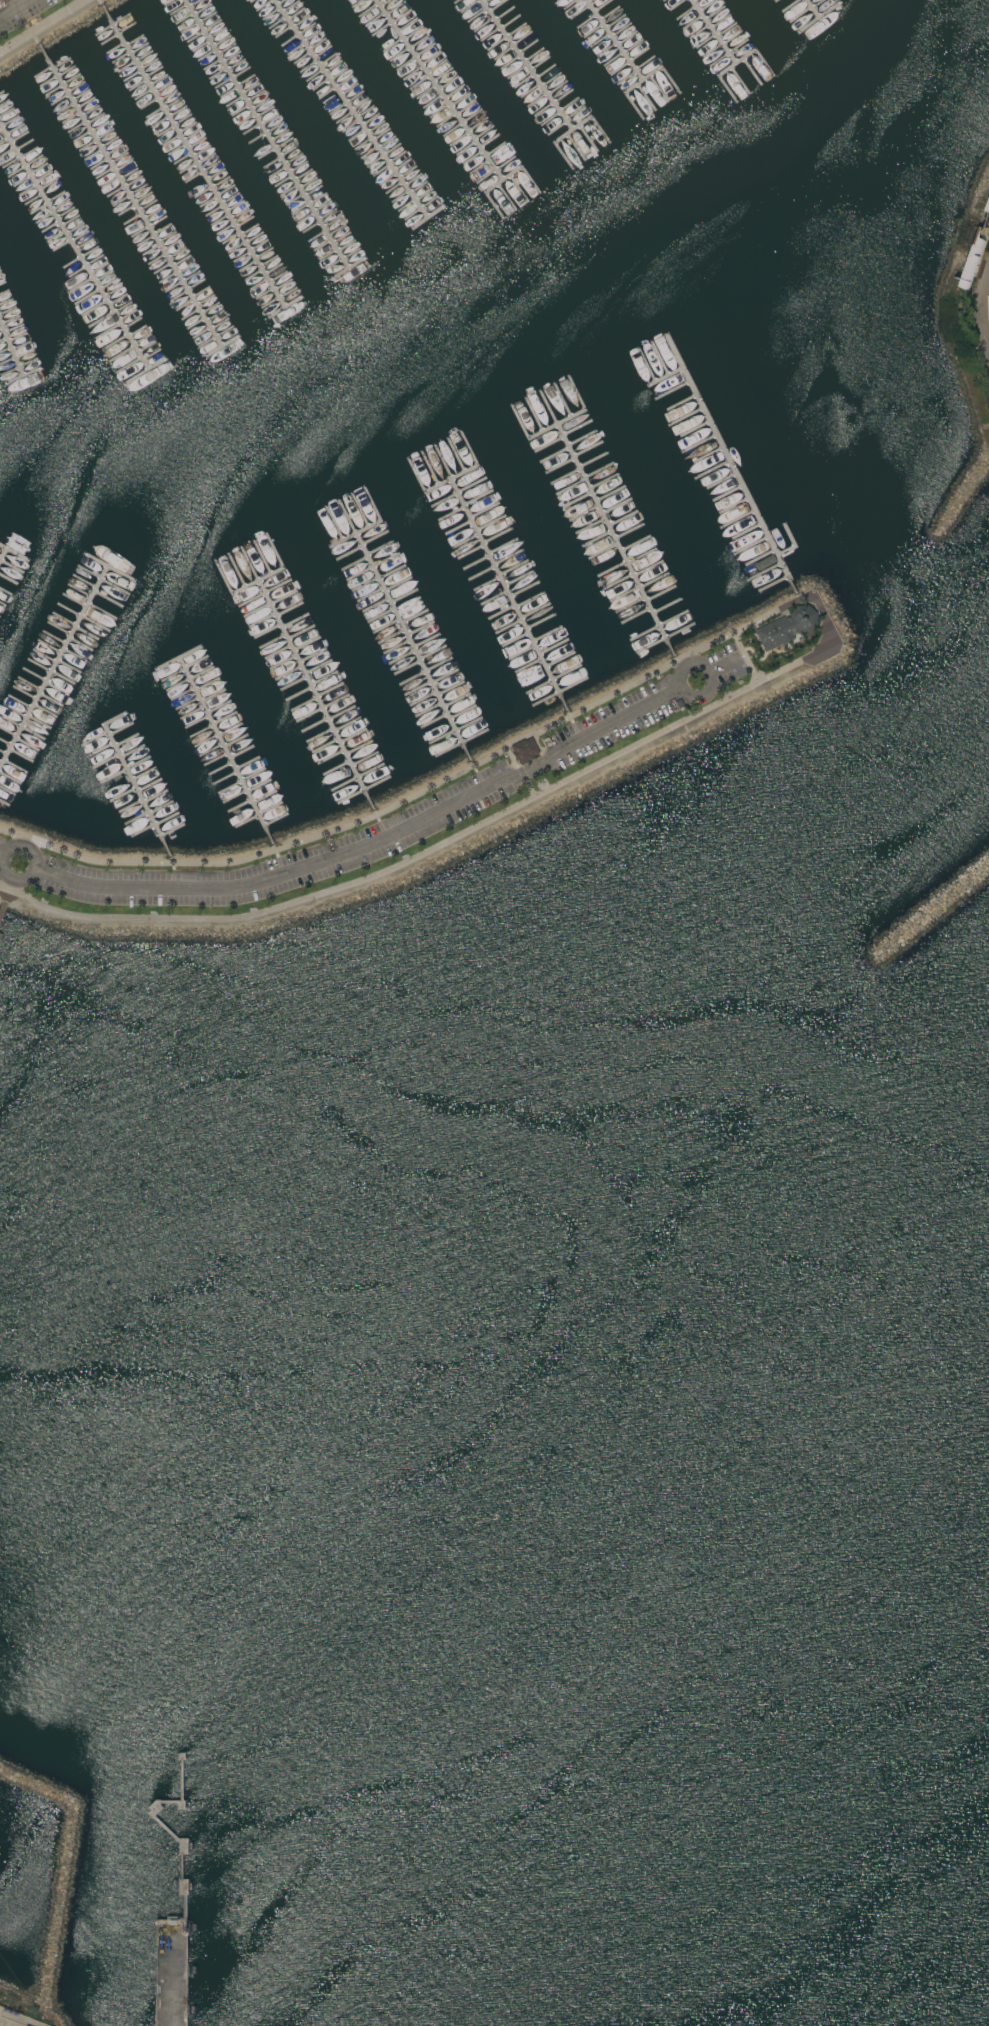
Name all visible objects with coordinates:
road: (15, 9)
pier: (809, 9)
parking lot: (21, 13)
road: (41, 25)
pier: (715, 33)
pier: (618, 39)
pier: (525, 65)
pier: (441, 91)
pier: (347, 107)
pier: (266, 135)
pier: (194, 158)
pier: (131, 198)
pier: (72, 247)
building: (972, 253)
road: (978, 307)
pier: (11, 351)
pier: (570, 419)
pier: (730, 462)
pier: (452, 480)
pier: (606, 522)
pier: (367, 530)
pier: (793, 546)
pier: (4, 555)
pier: (16, 557)
pier: (120, 573)
building: (772, 575)
pier: (269, 576)
pier: (506, 593)
building: (787, 627)
pier: (406, 633)
pier: (180, 660)
pier: (60, 661)
road: (729, 666)
pier: (310, 679)
road: (685, 694)
pier: (224, 751)
building: (525, 751)
road: (520, 773)
pier: (135, 783)
road: (405, 803)
road: (373, 844)
road: (416, 856)
road: (2, 857)
road: (8, 877)
pier: (2, 911)
pier: (0, 936)
river: (79, 1350)
pier: (166, 1829)
pier: (175, 1973)

